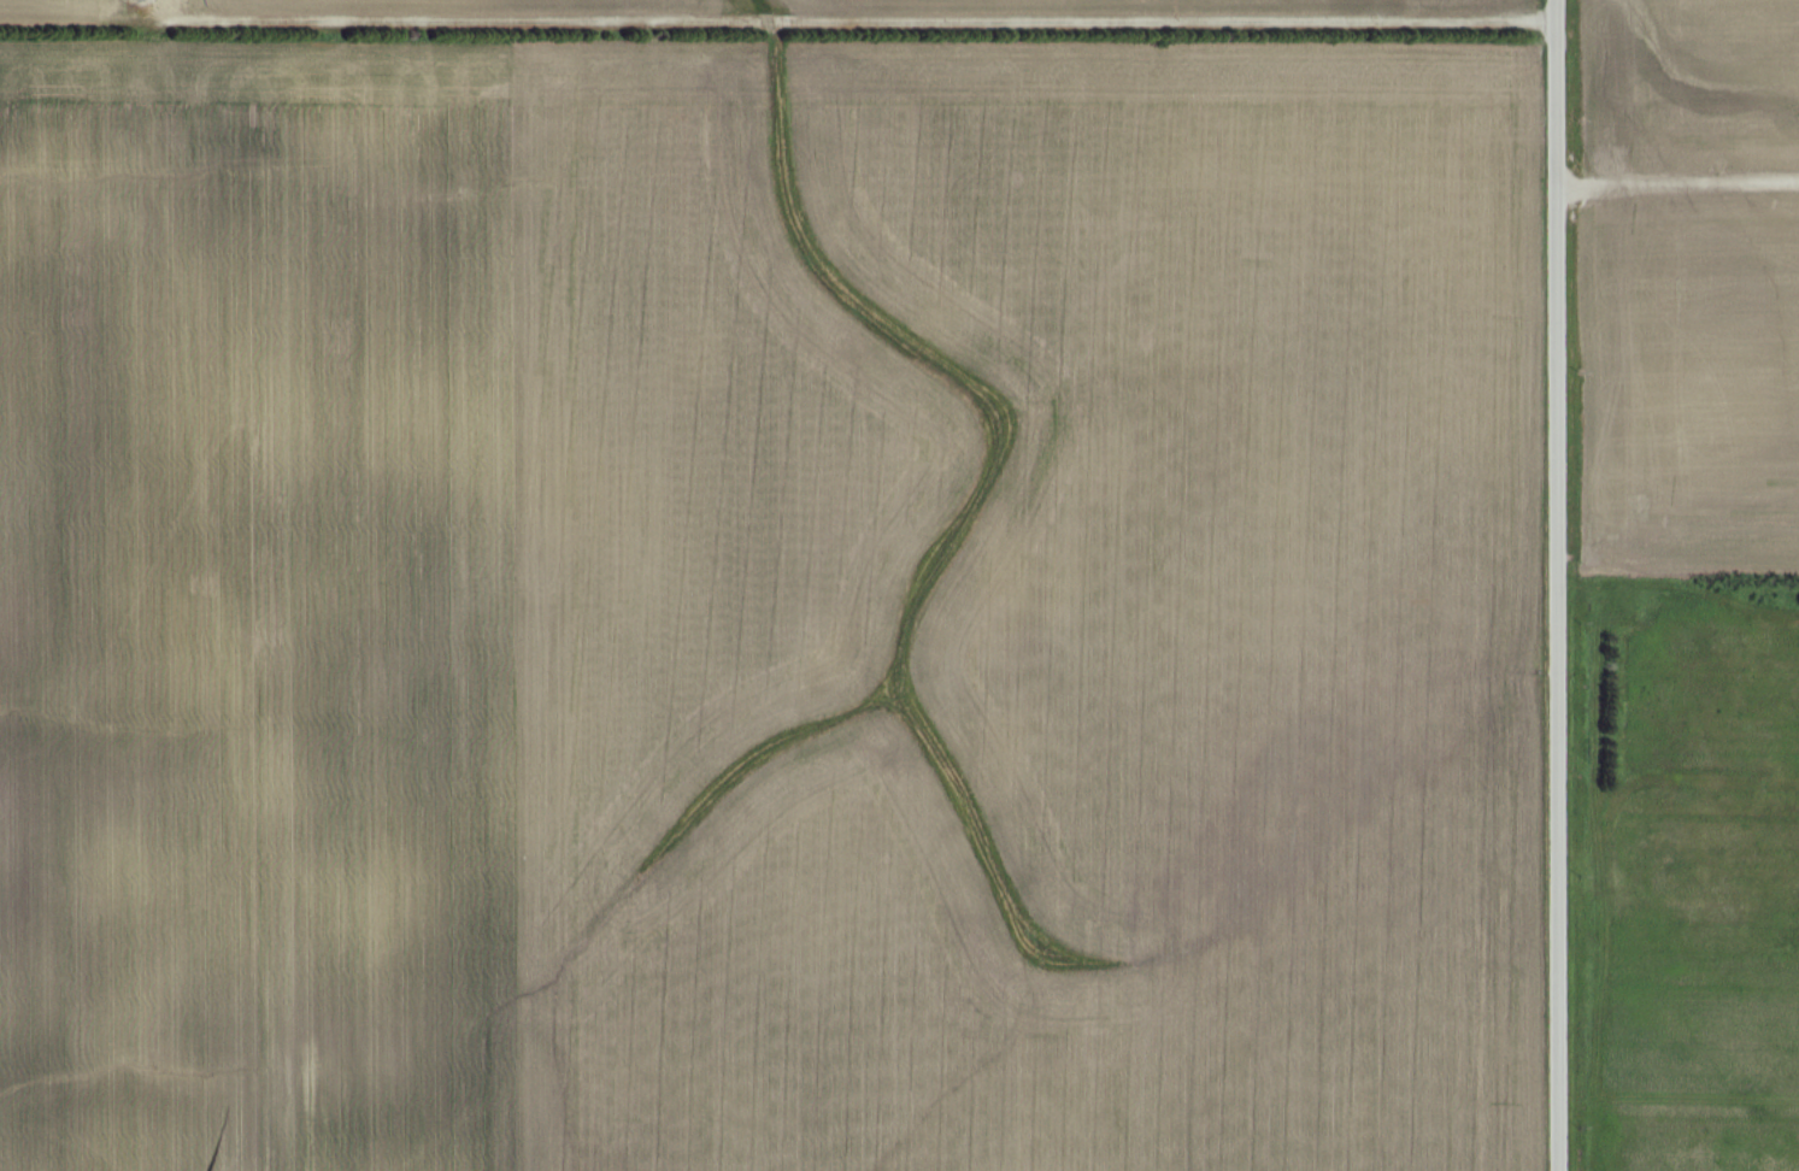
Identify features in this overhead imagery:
road: (1675, 184)
road: (1551, 585)

